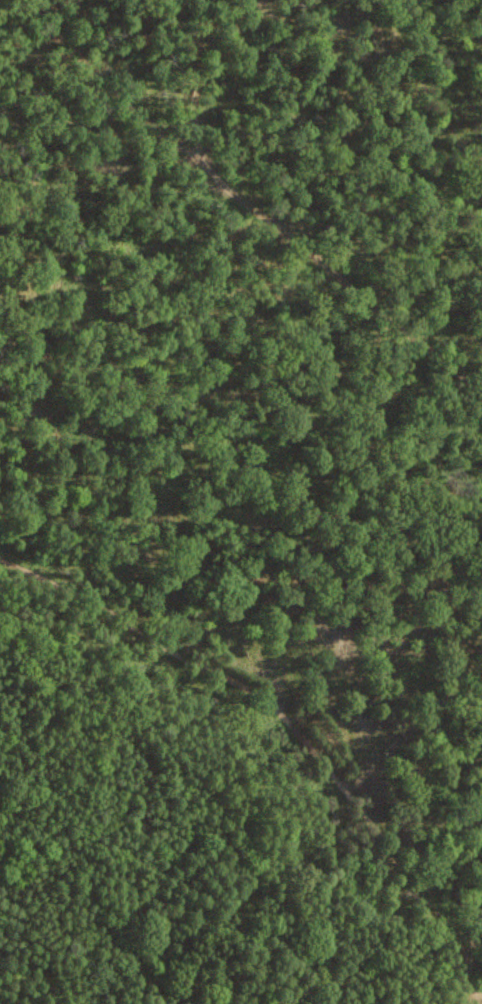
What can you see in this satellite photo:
road: (246, 203)
road: (283, 717)
road: (475, 959)

